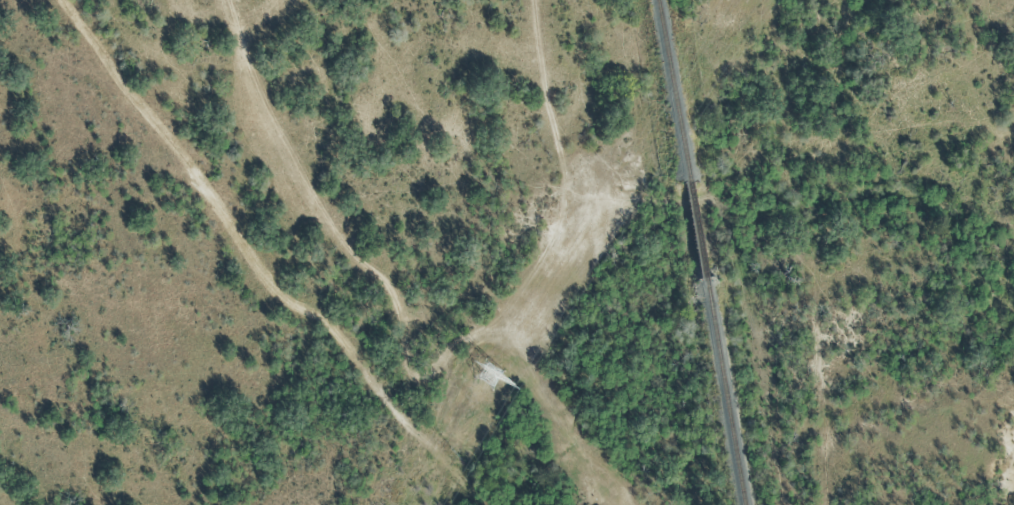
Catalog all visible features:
railway: (697, 252)
power tower: (483, 375)

